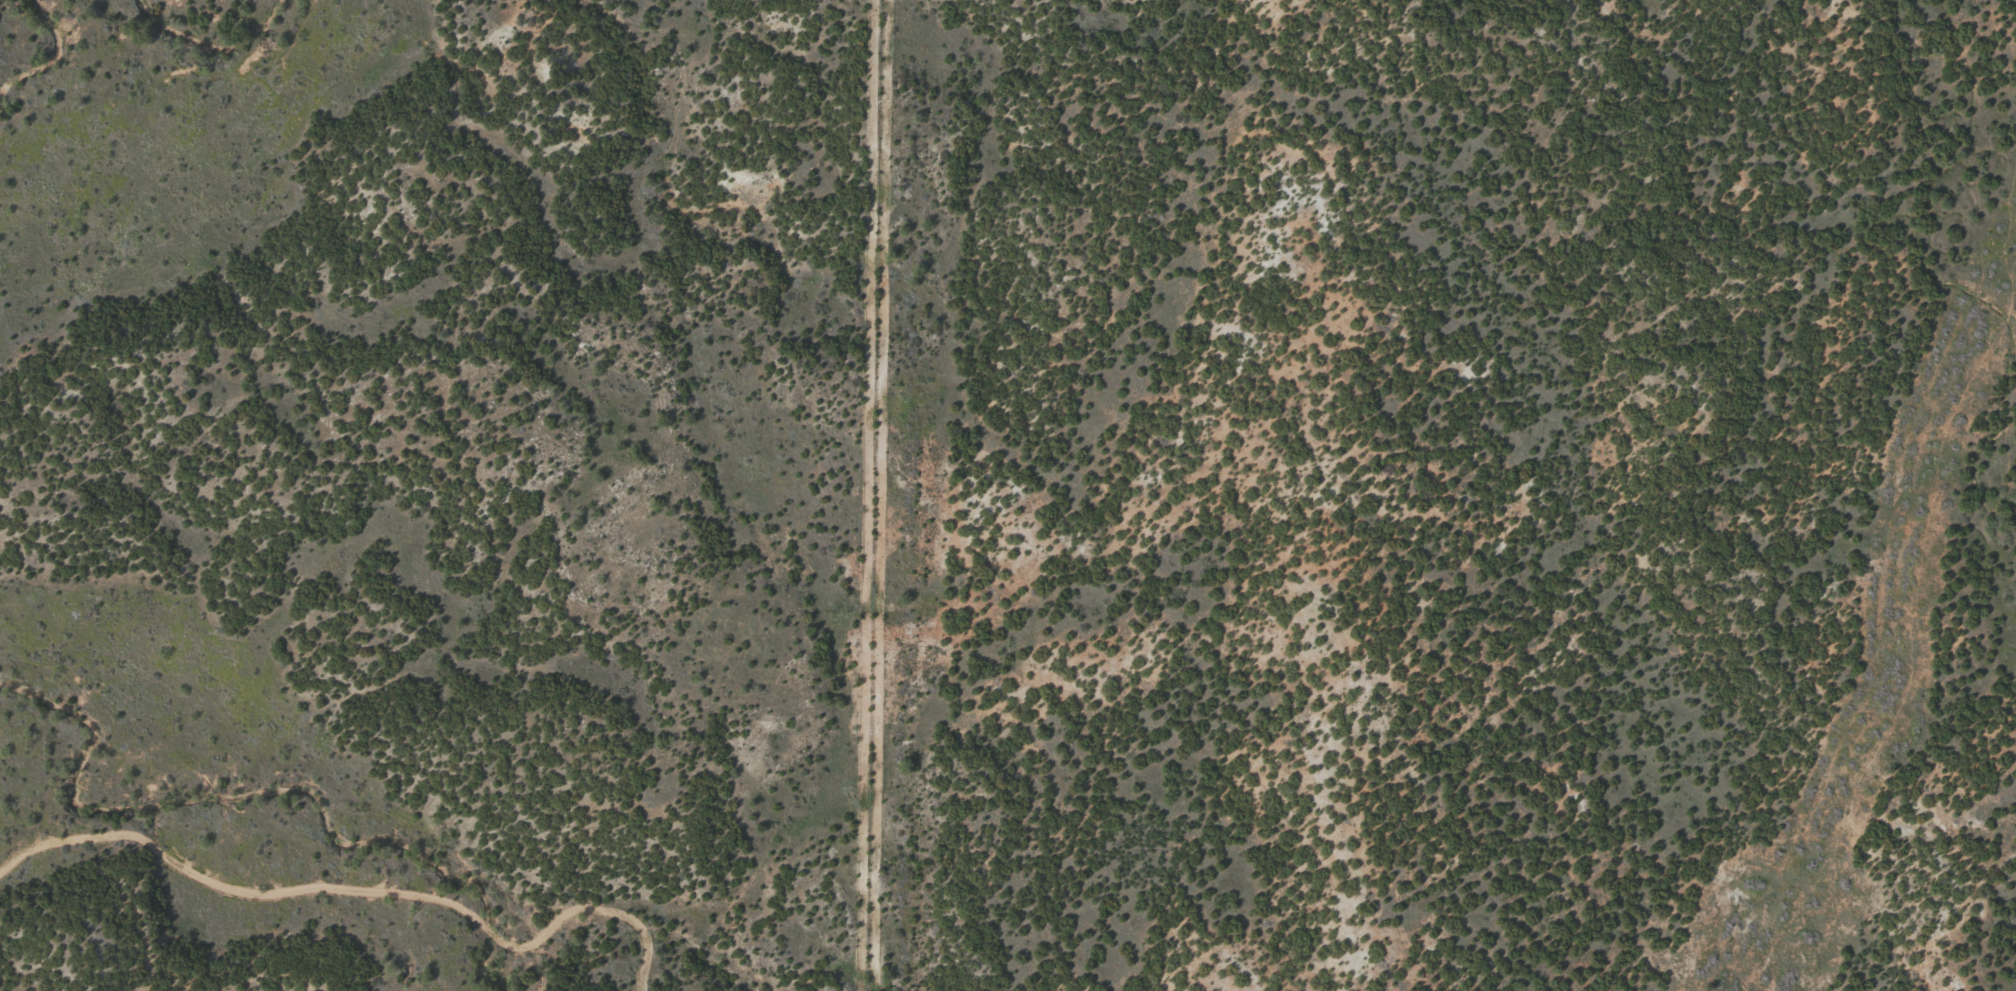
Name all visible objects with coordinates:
road: (319, 891)

